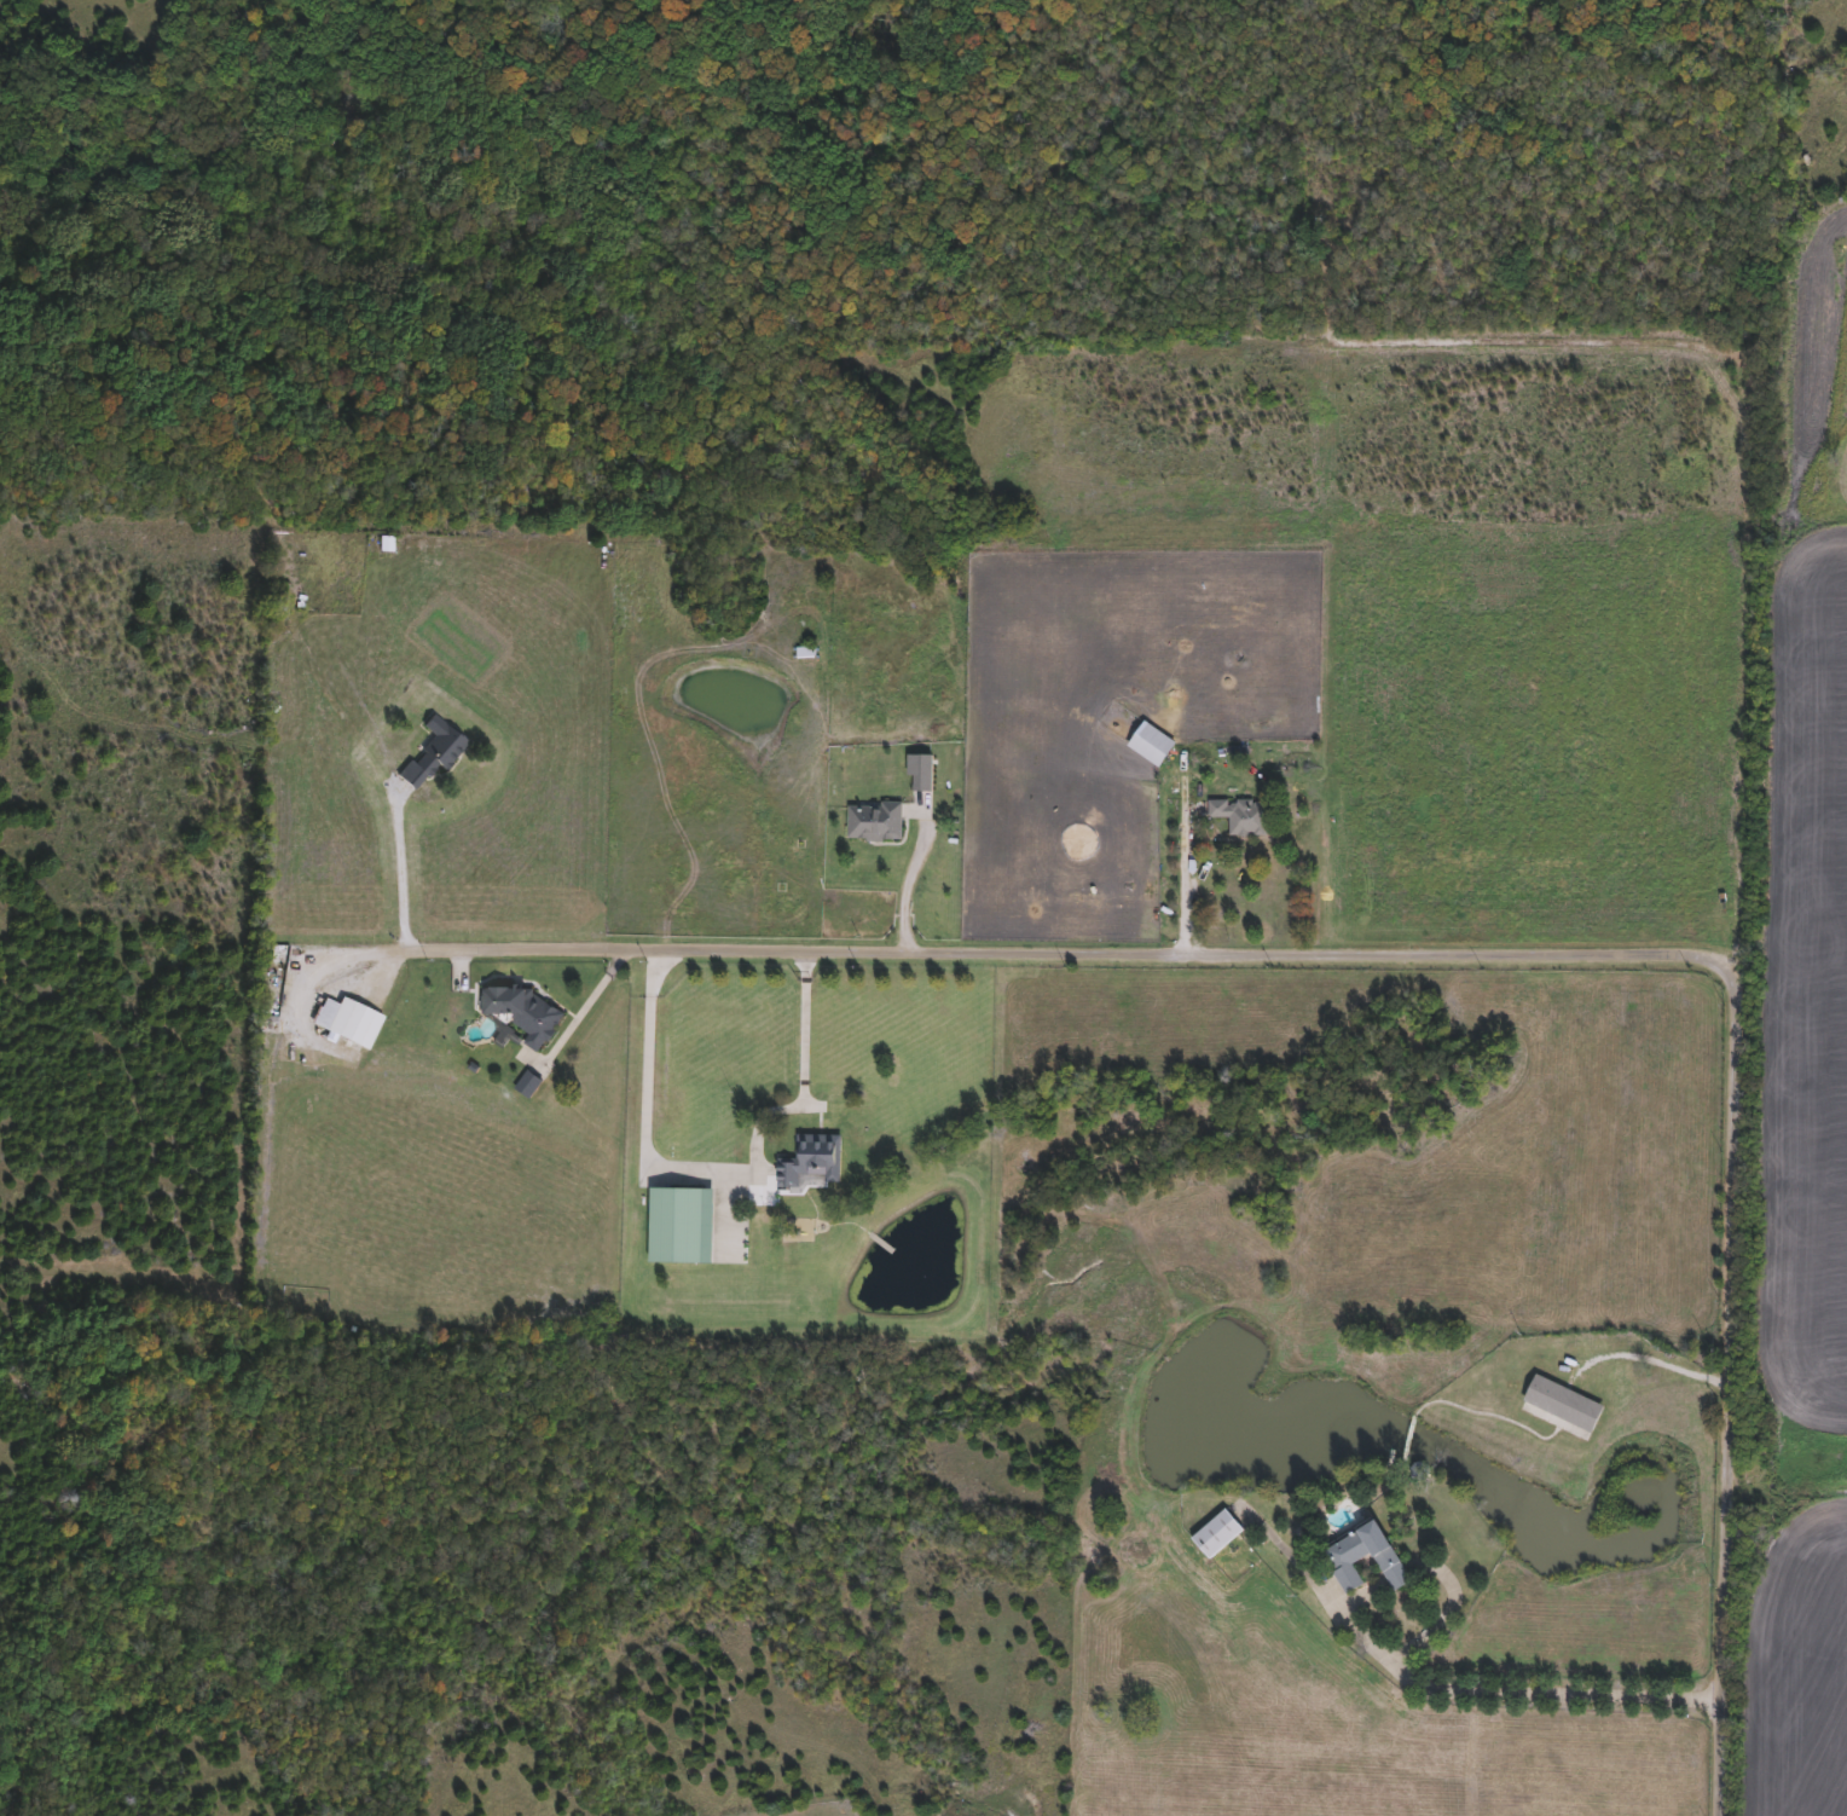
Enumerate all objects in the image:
park: (73, 70)
building: (804, 655)
building: (1150, 745)
building: (432, 752)
building: (919, 771)
building: (1240, 816)
building: (873, 823)
road: (1183, 869)
road: (403, 874)
road: (909, 877)
road: (1481, 953)
road: (338, 960)
road: (583, 1010)
building: (523, 1016)
building: (346, 1022)
building: (810, 1164)
road: (716, 1168)
building: (679, 1227)
road: (1651, 1361)
building: (1561, 1406)
building: (1216, 1534)
building: (1361, 1557)
road: (1536, 1690)

